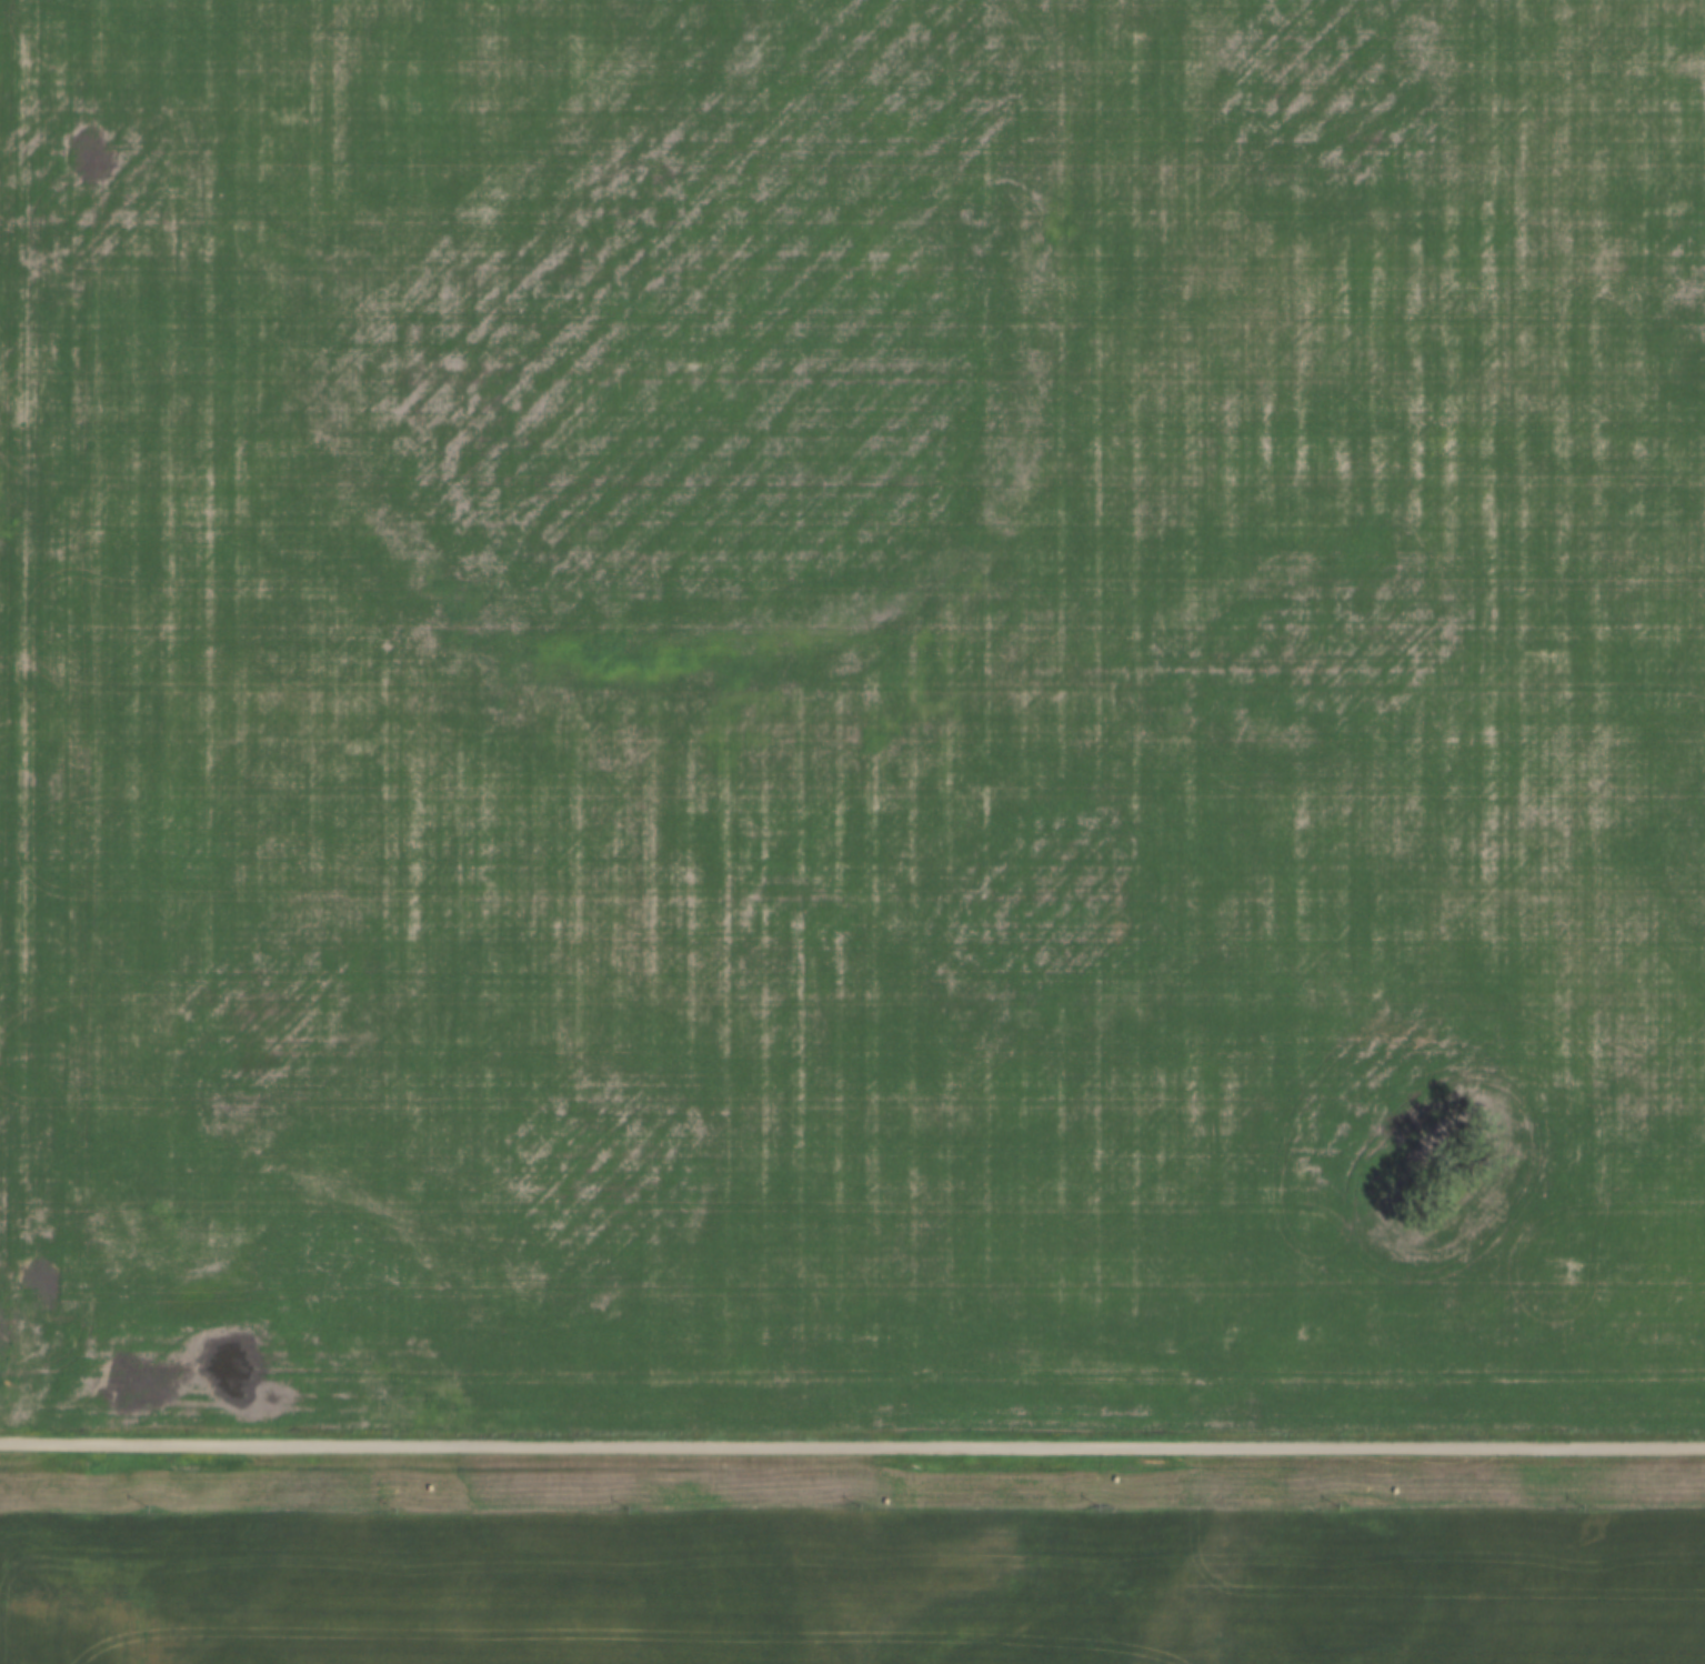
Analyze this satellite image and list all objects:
road: (852, 1455)

